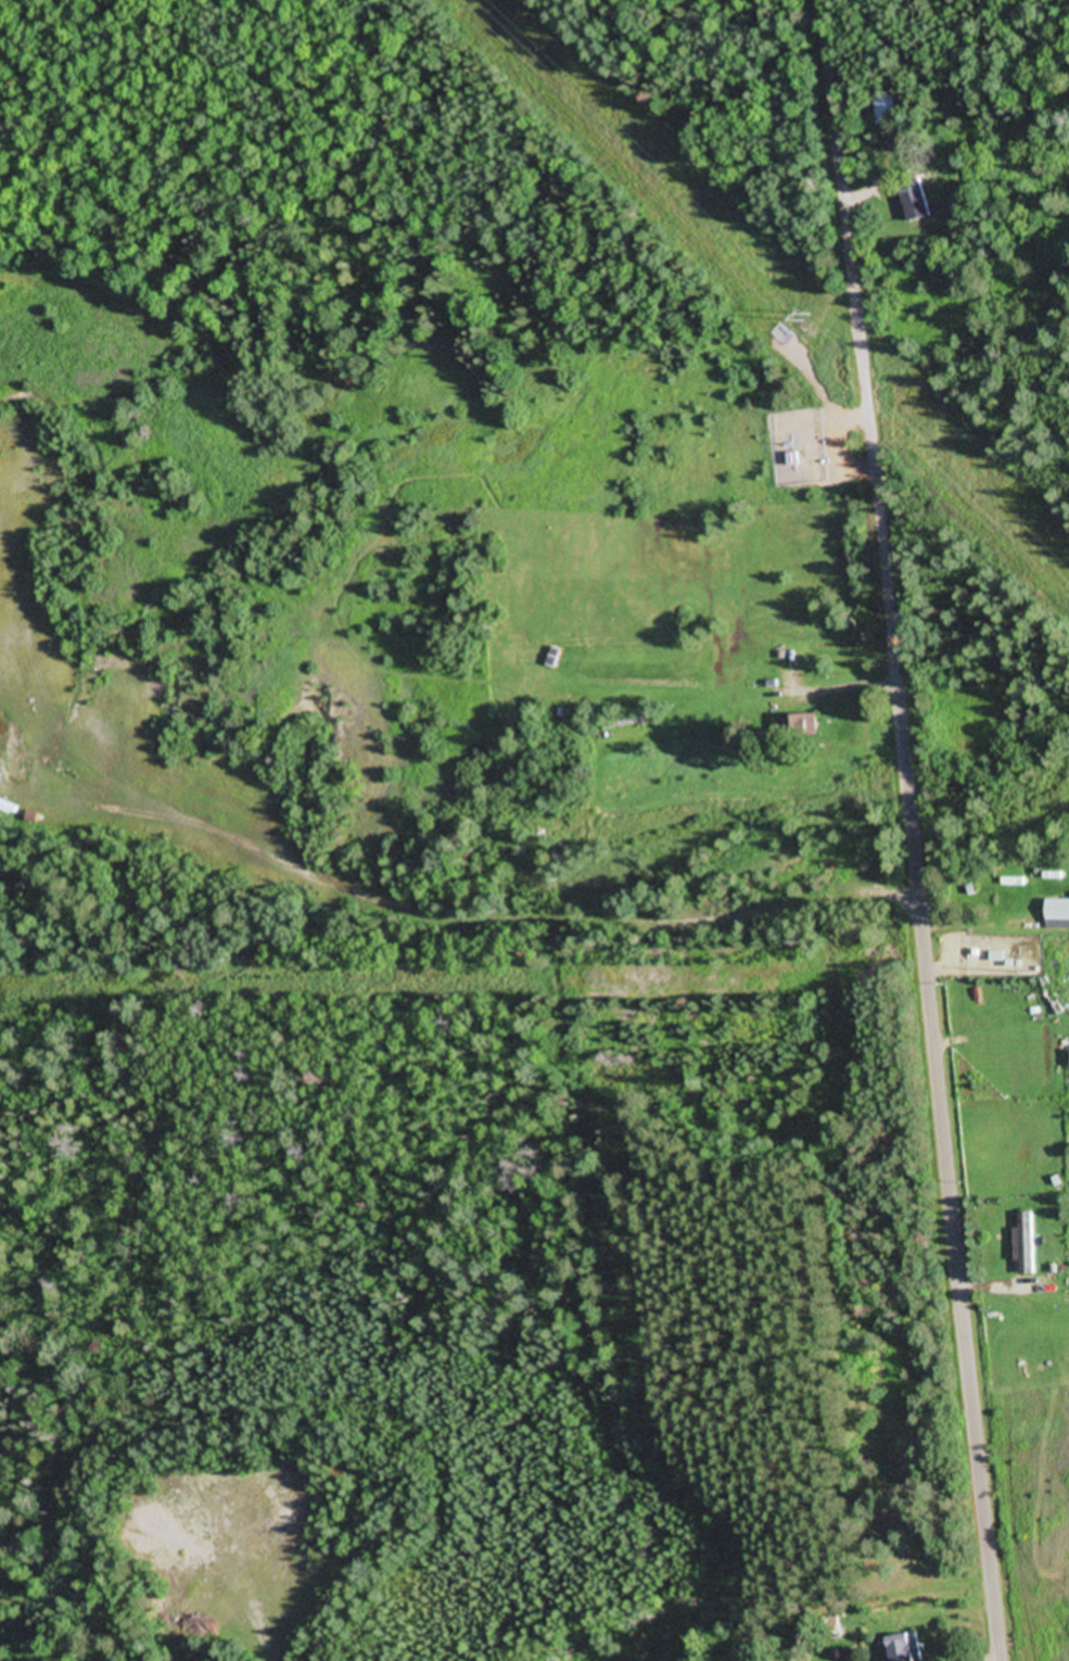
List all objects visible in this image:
building: (887, 112)
building: (916, 202)
power tower: (811, 320)
building: (797, 727)
road: (914, 829)
building: (1058, 915)
building: (1026, 1245)
building: (905, 1648)

